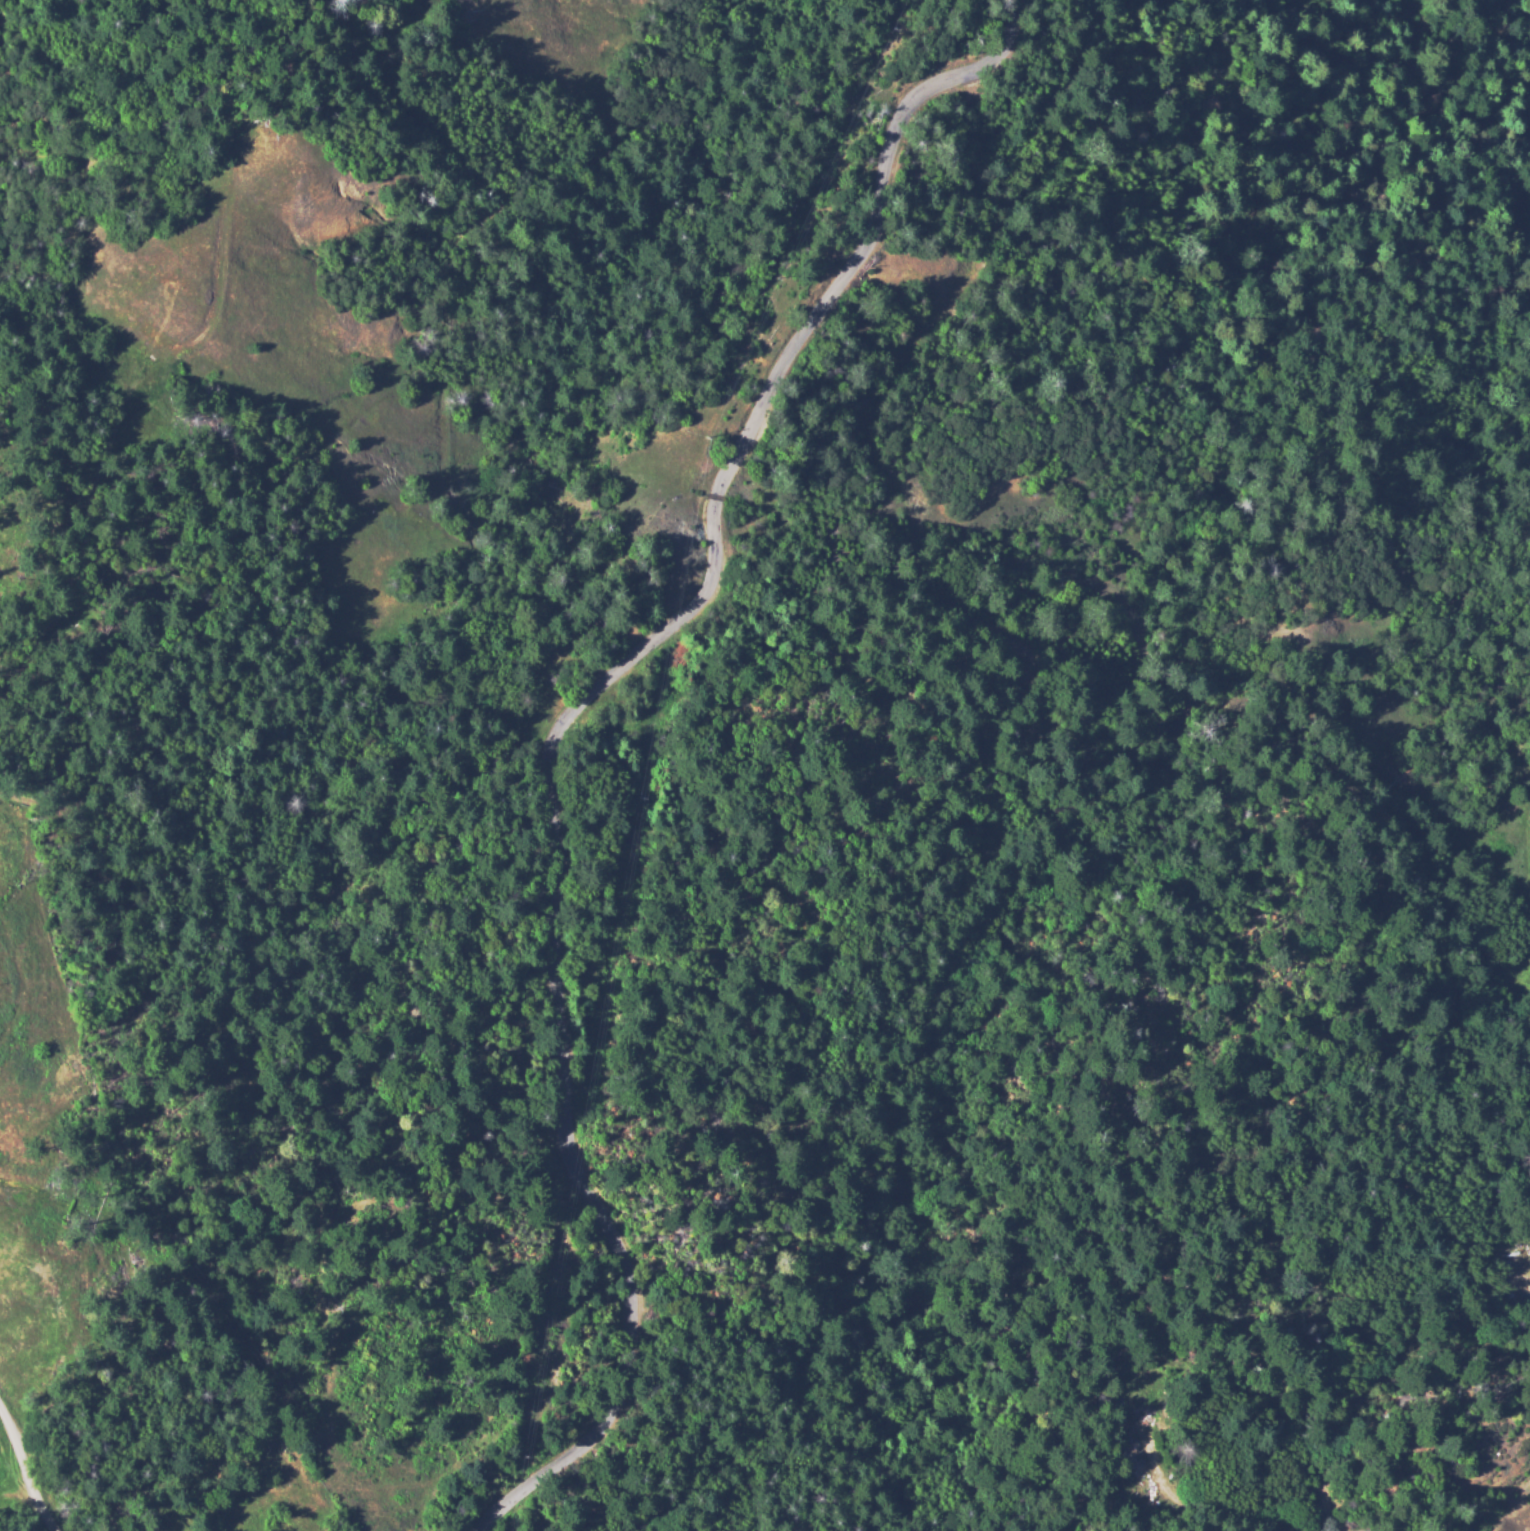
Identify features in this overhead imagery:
road: (192, 323)
road: (567, 720)
road: (29, 1468)

